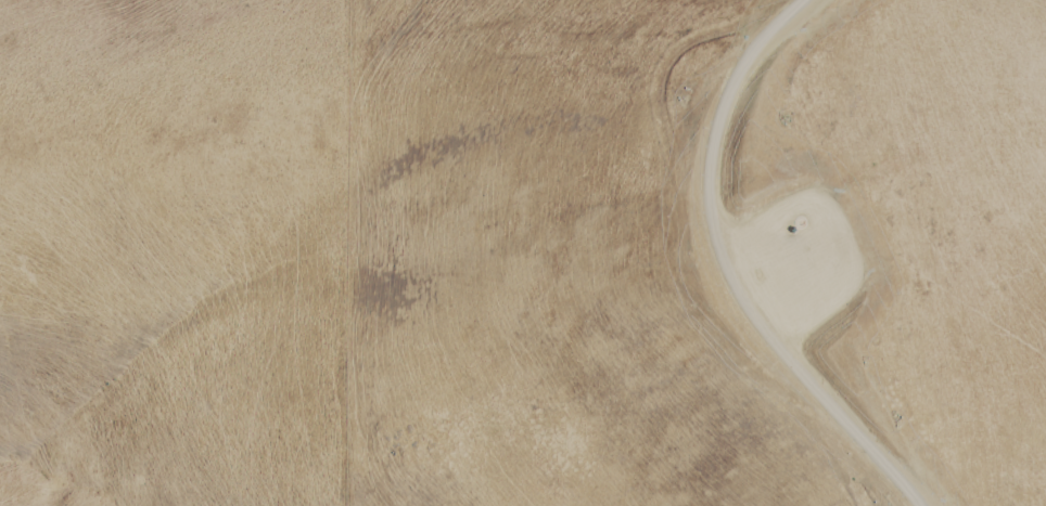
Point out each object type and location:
wind turbine: (796, 228)

